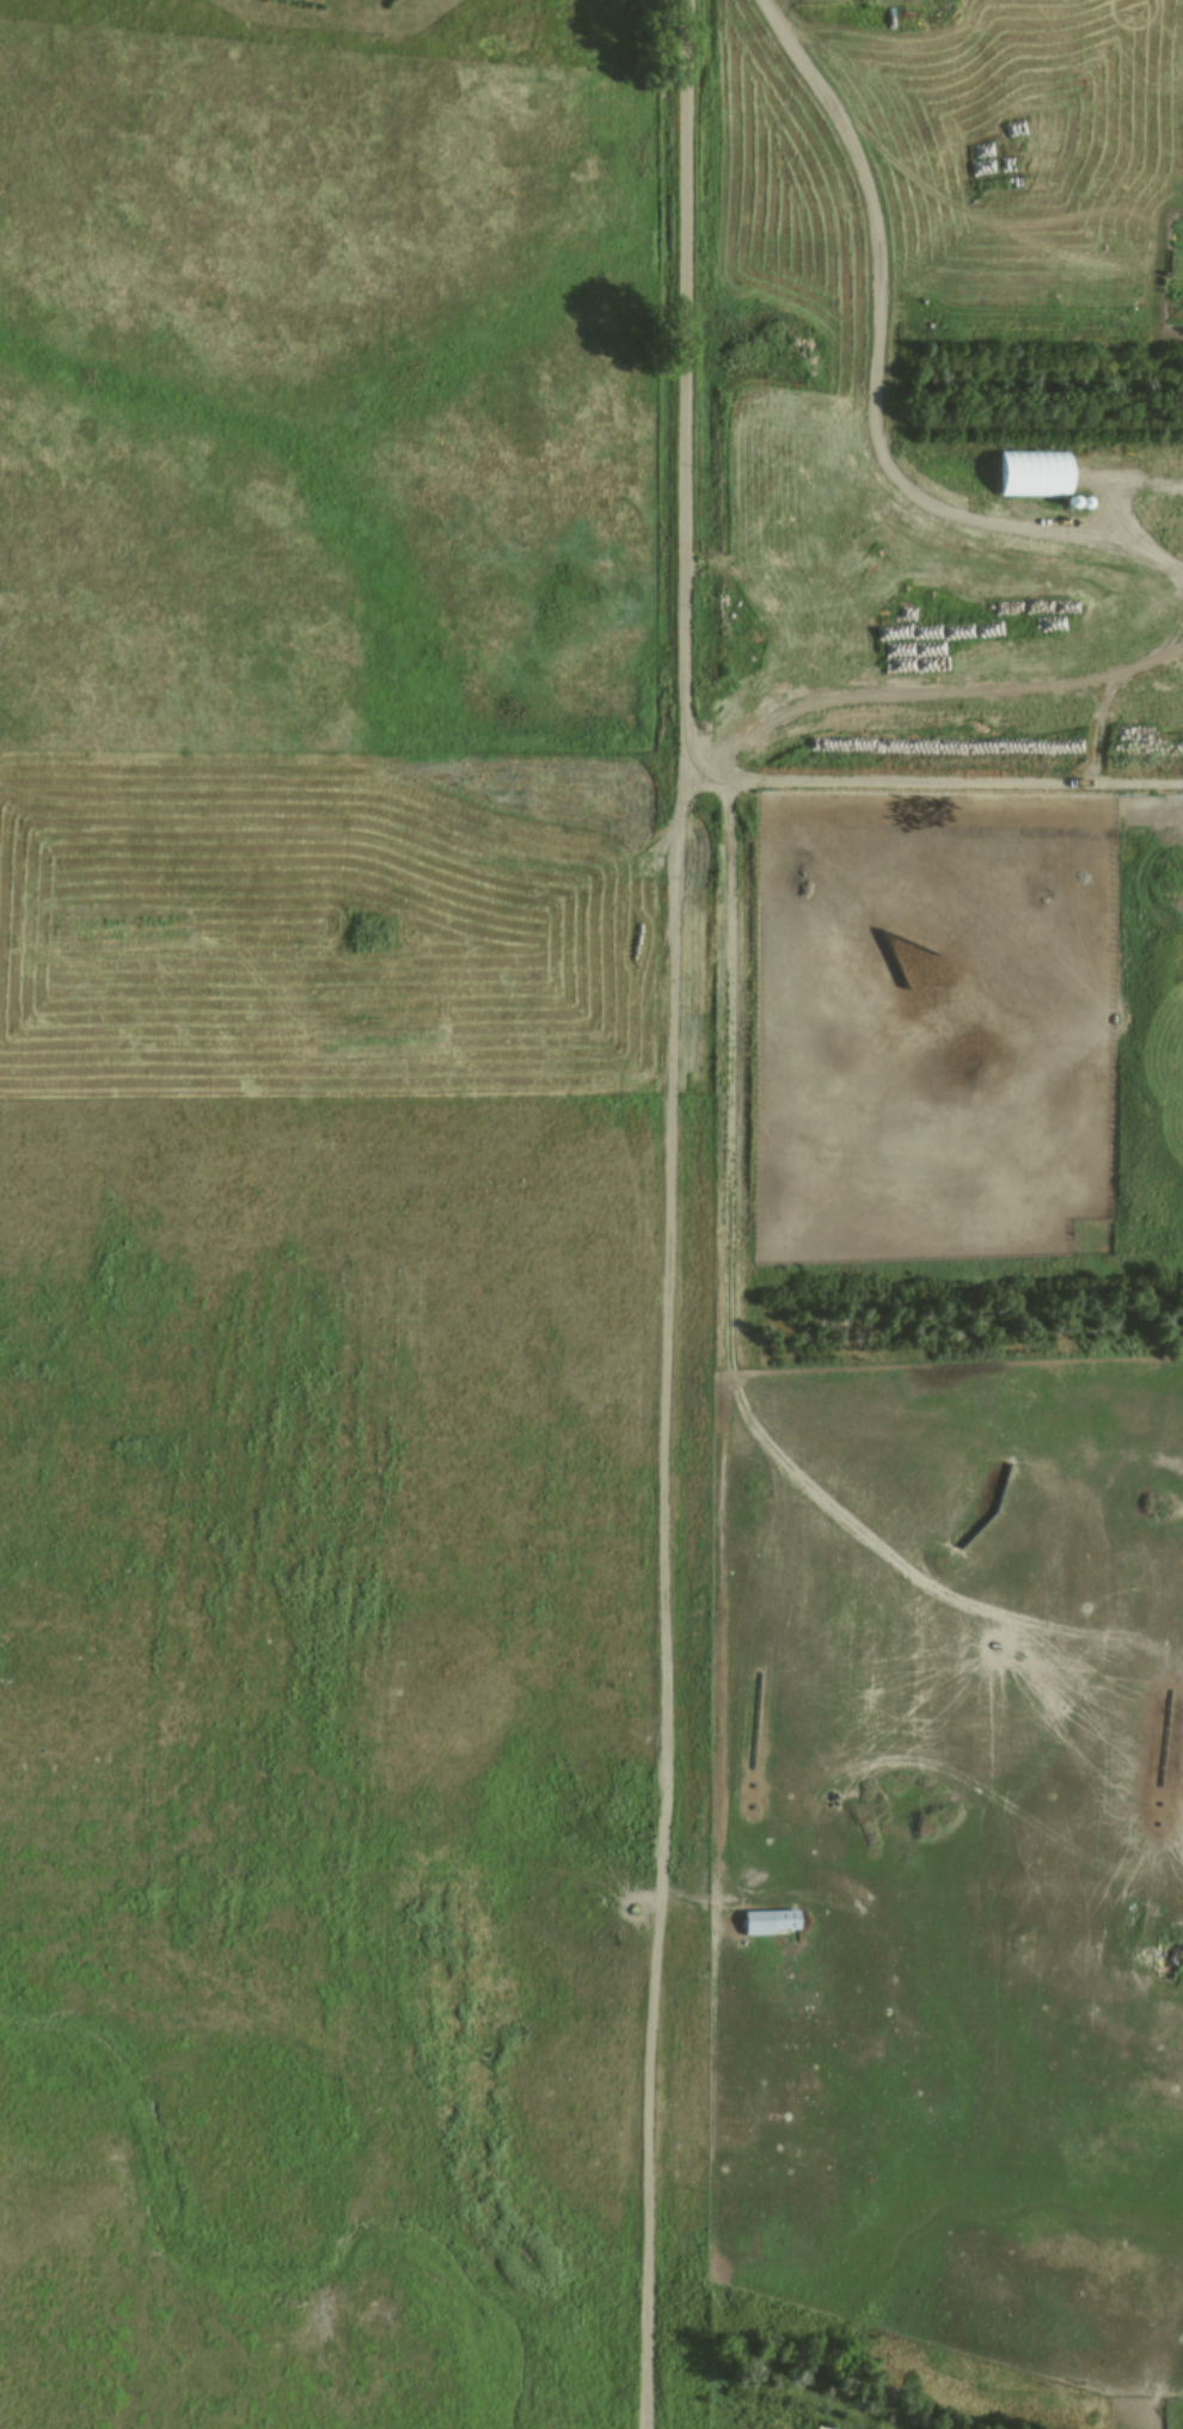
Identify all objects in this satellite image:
building: (1182, 0)
building: (1030, 474)
road: (932, 673)
road: (672, 1214)
building: (767, 1922)

